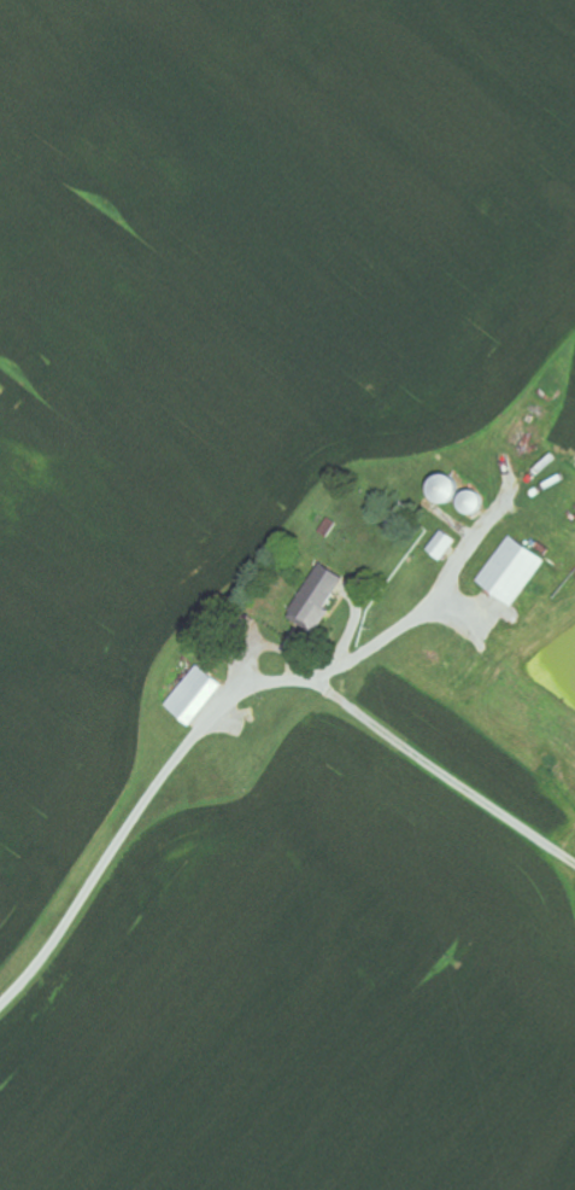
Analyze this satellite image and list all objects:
building: (441, 546)
building: (510, 571)
building: (316, 599)
building: (192, 695)
road: (70, 823)

